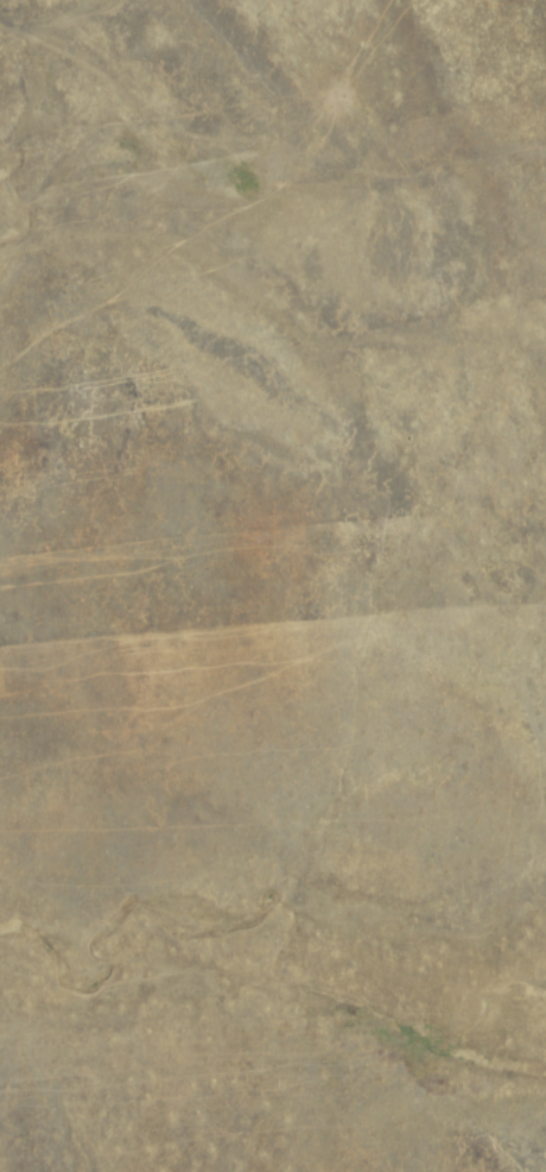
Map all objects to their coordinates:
road: (259, 171)

